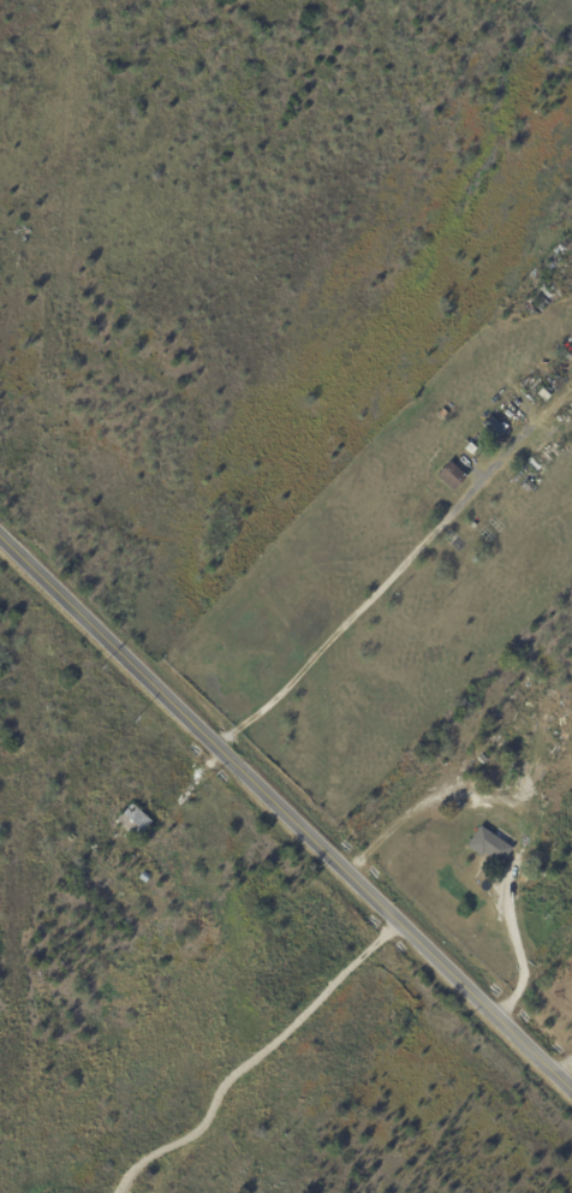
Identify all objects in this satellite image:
building: (544, 396)
building: (442, 415)
building: (495, 429)
building: (472, 450)
building: (452, 477)
building: (526, 487)
building: (490, 762)
building: (465, 767)
building: (499, 791)
road: (282, 818)
building: (133, 823)
road: (391, 832)
building: (500, 833)
building: (489, 845)
building: (530, 845)
building: (144, 879)
road: (512, 931)
road: (534, 974)
road: (255, 1061)
road: (566, 1072)

